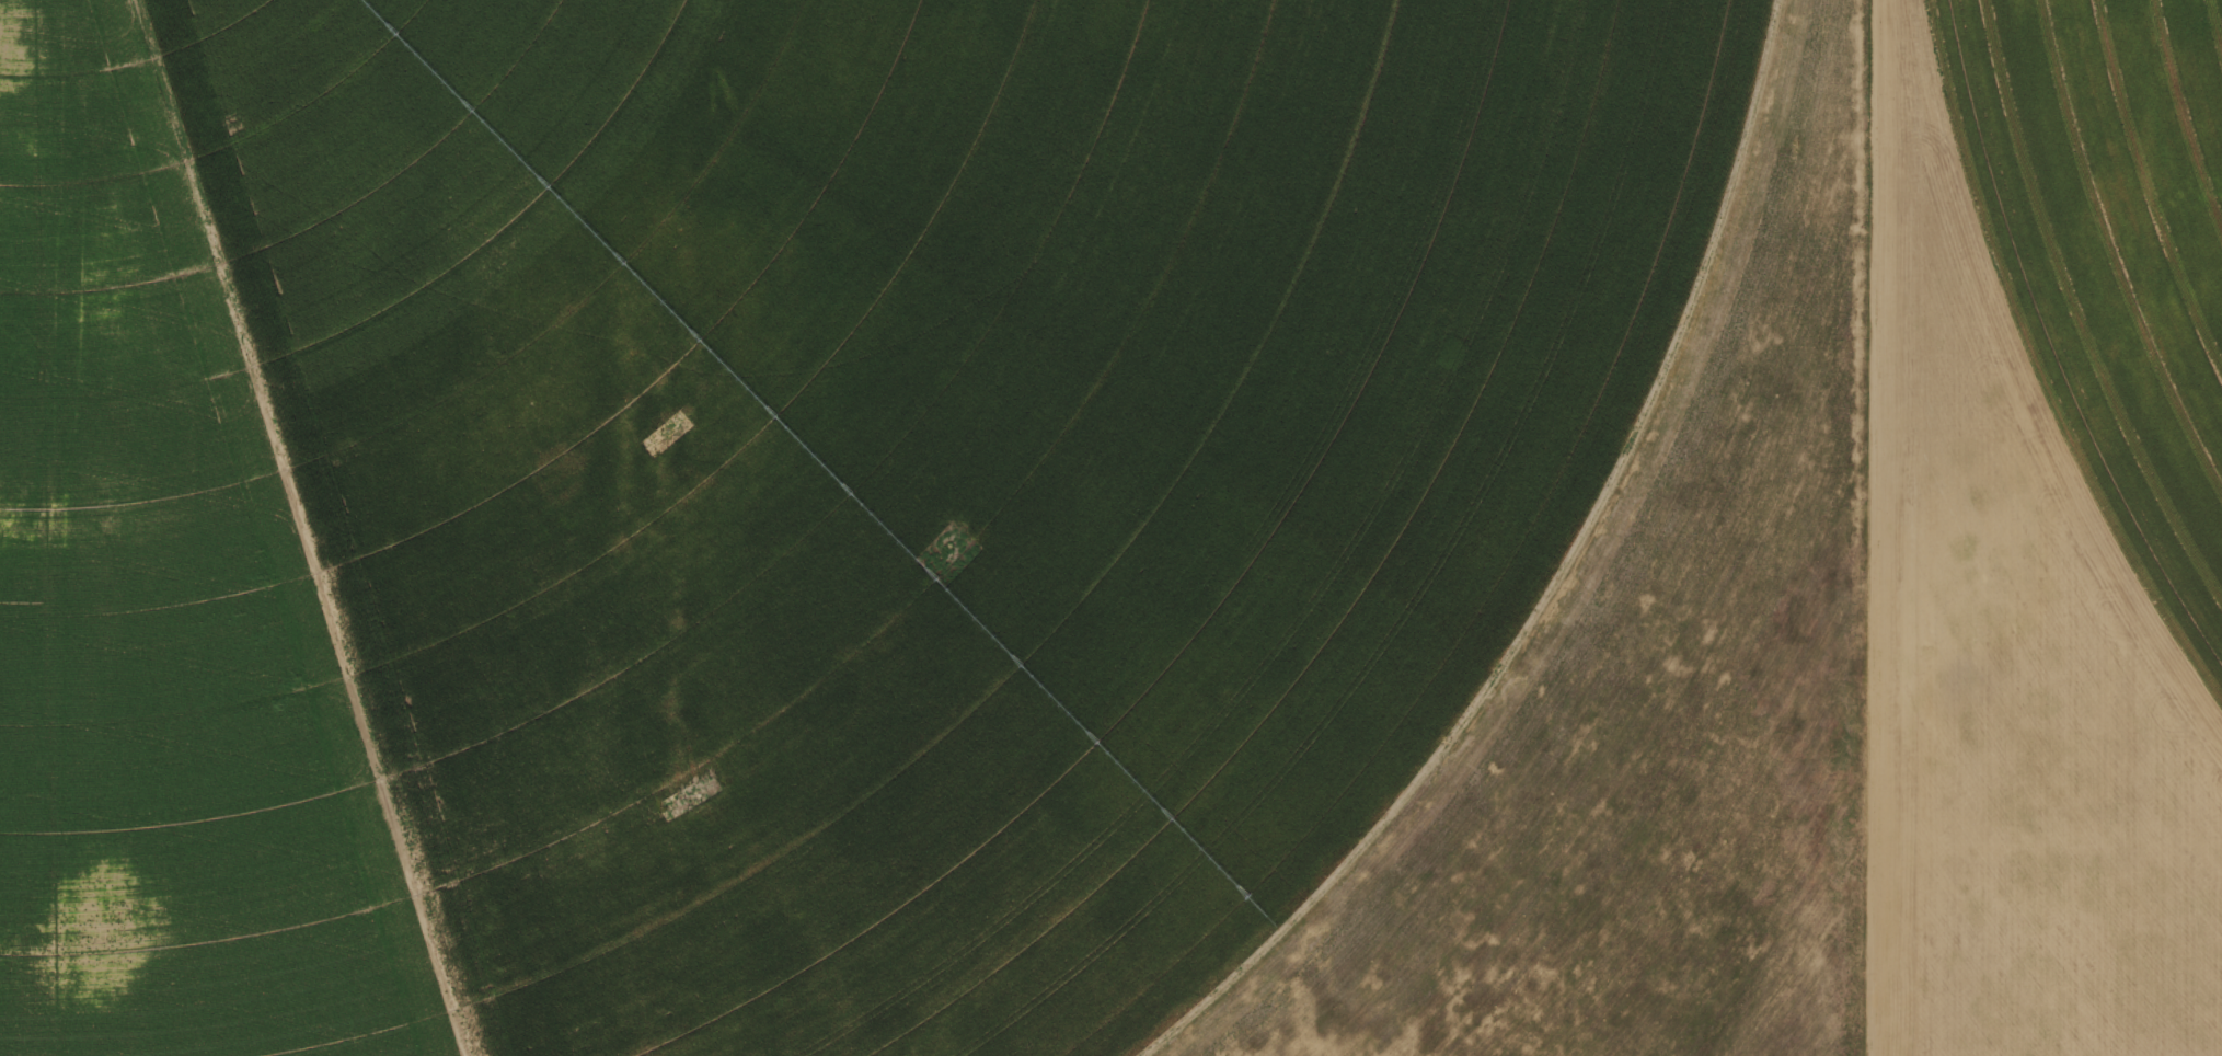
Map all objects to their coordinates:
road: (1886, 528)

